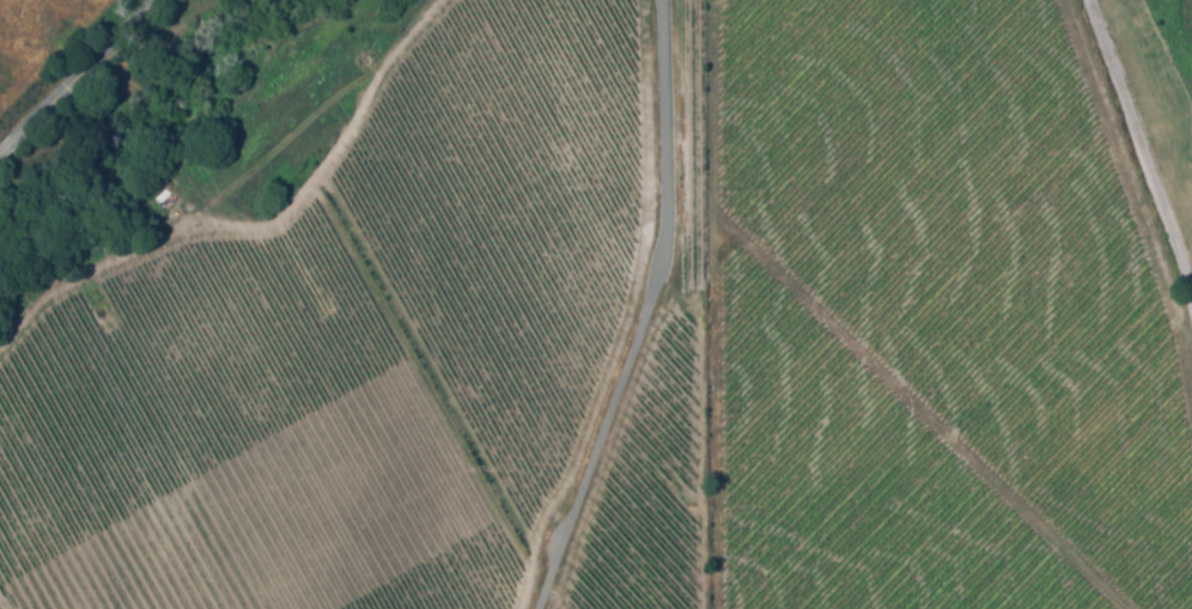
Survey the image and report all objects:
road: (78, 77)
road: (1141, 142)
crop: (510, 207)
crop: (979, 243)
road: (652, 312)
crop: (233, 445)
crop: (860, 485)
crop: (651, 497)

